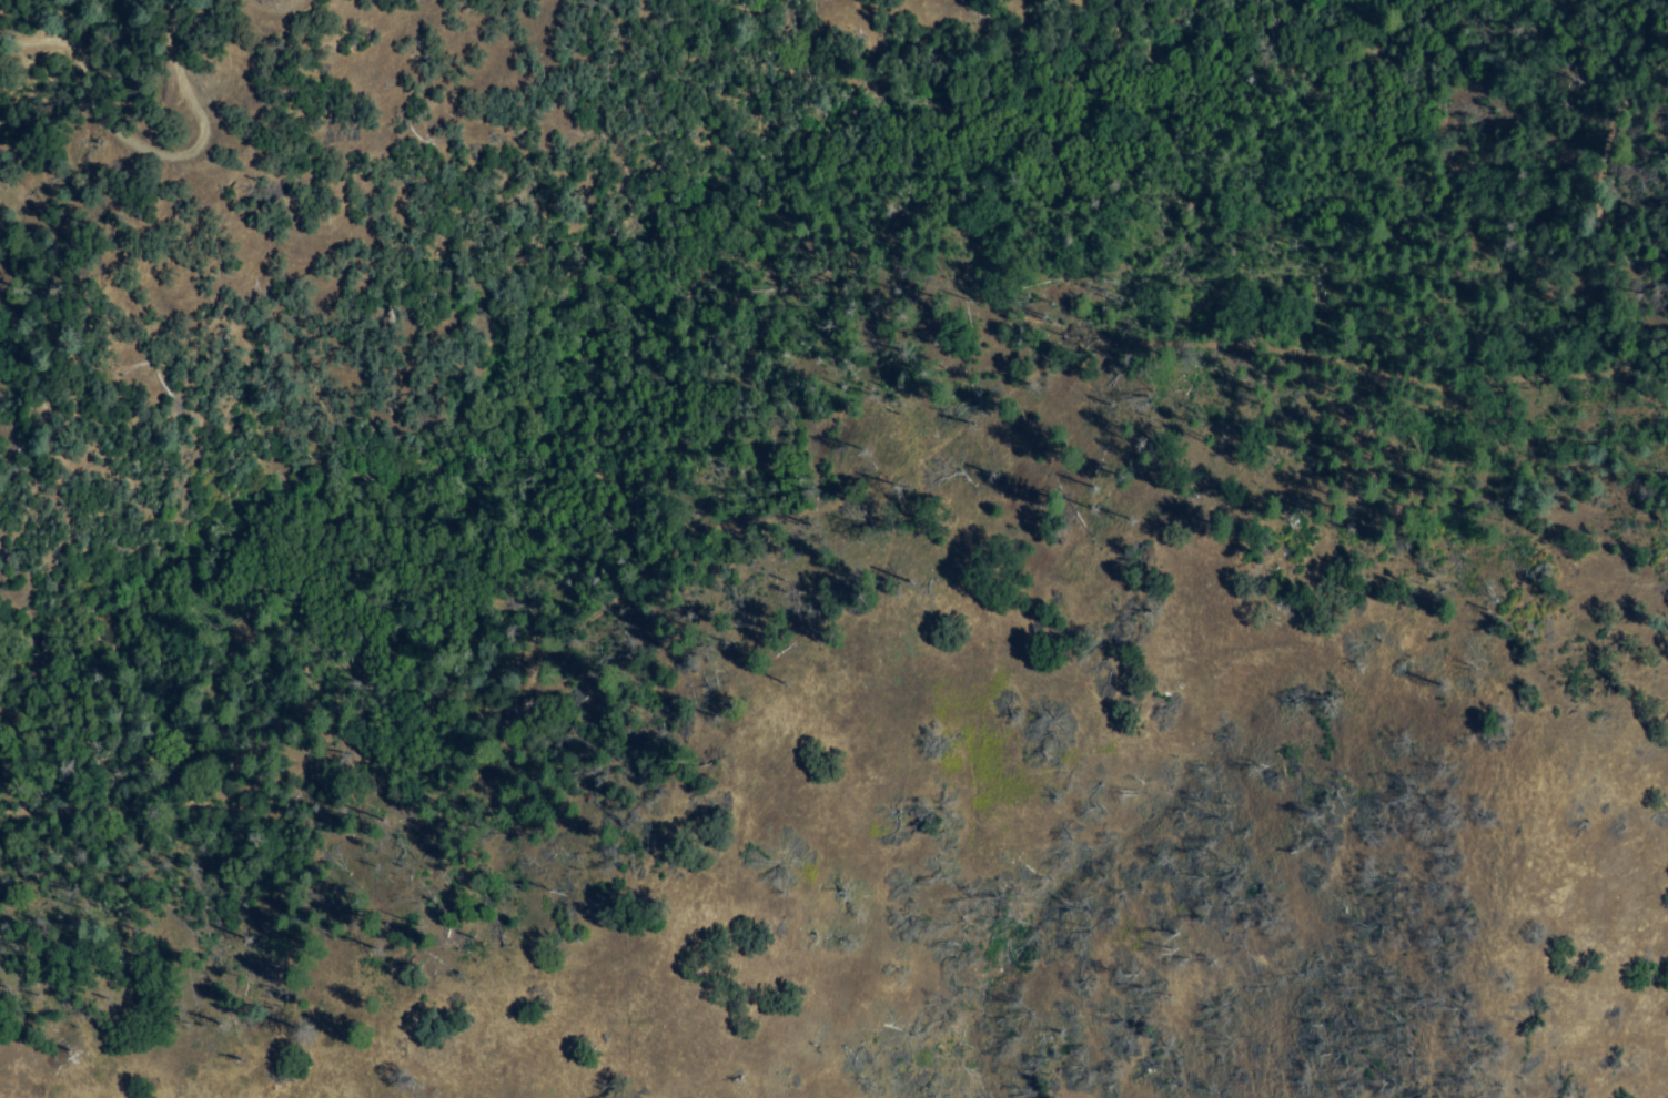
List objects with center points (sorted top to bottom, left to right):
road: (600, 587)

